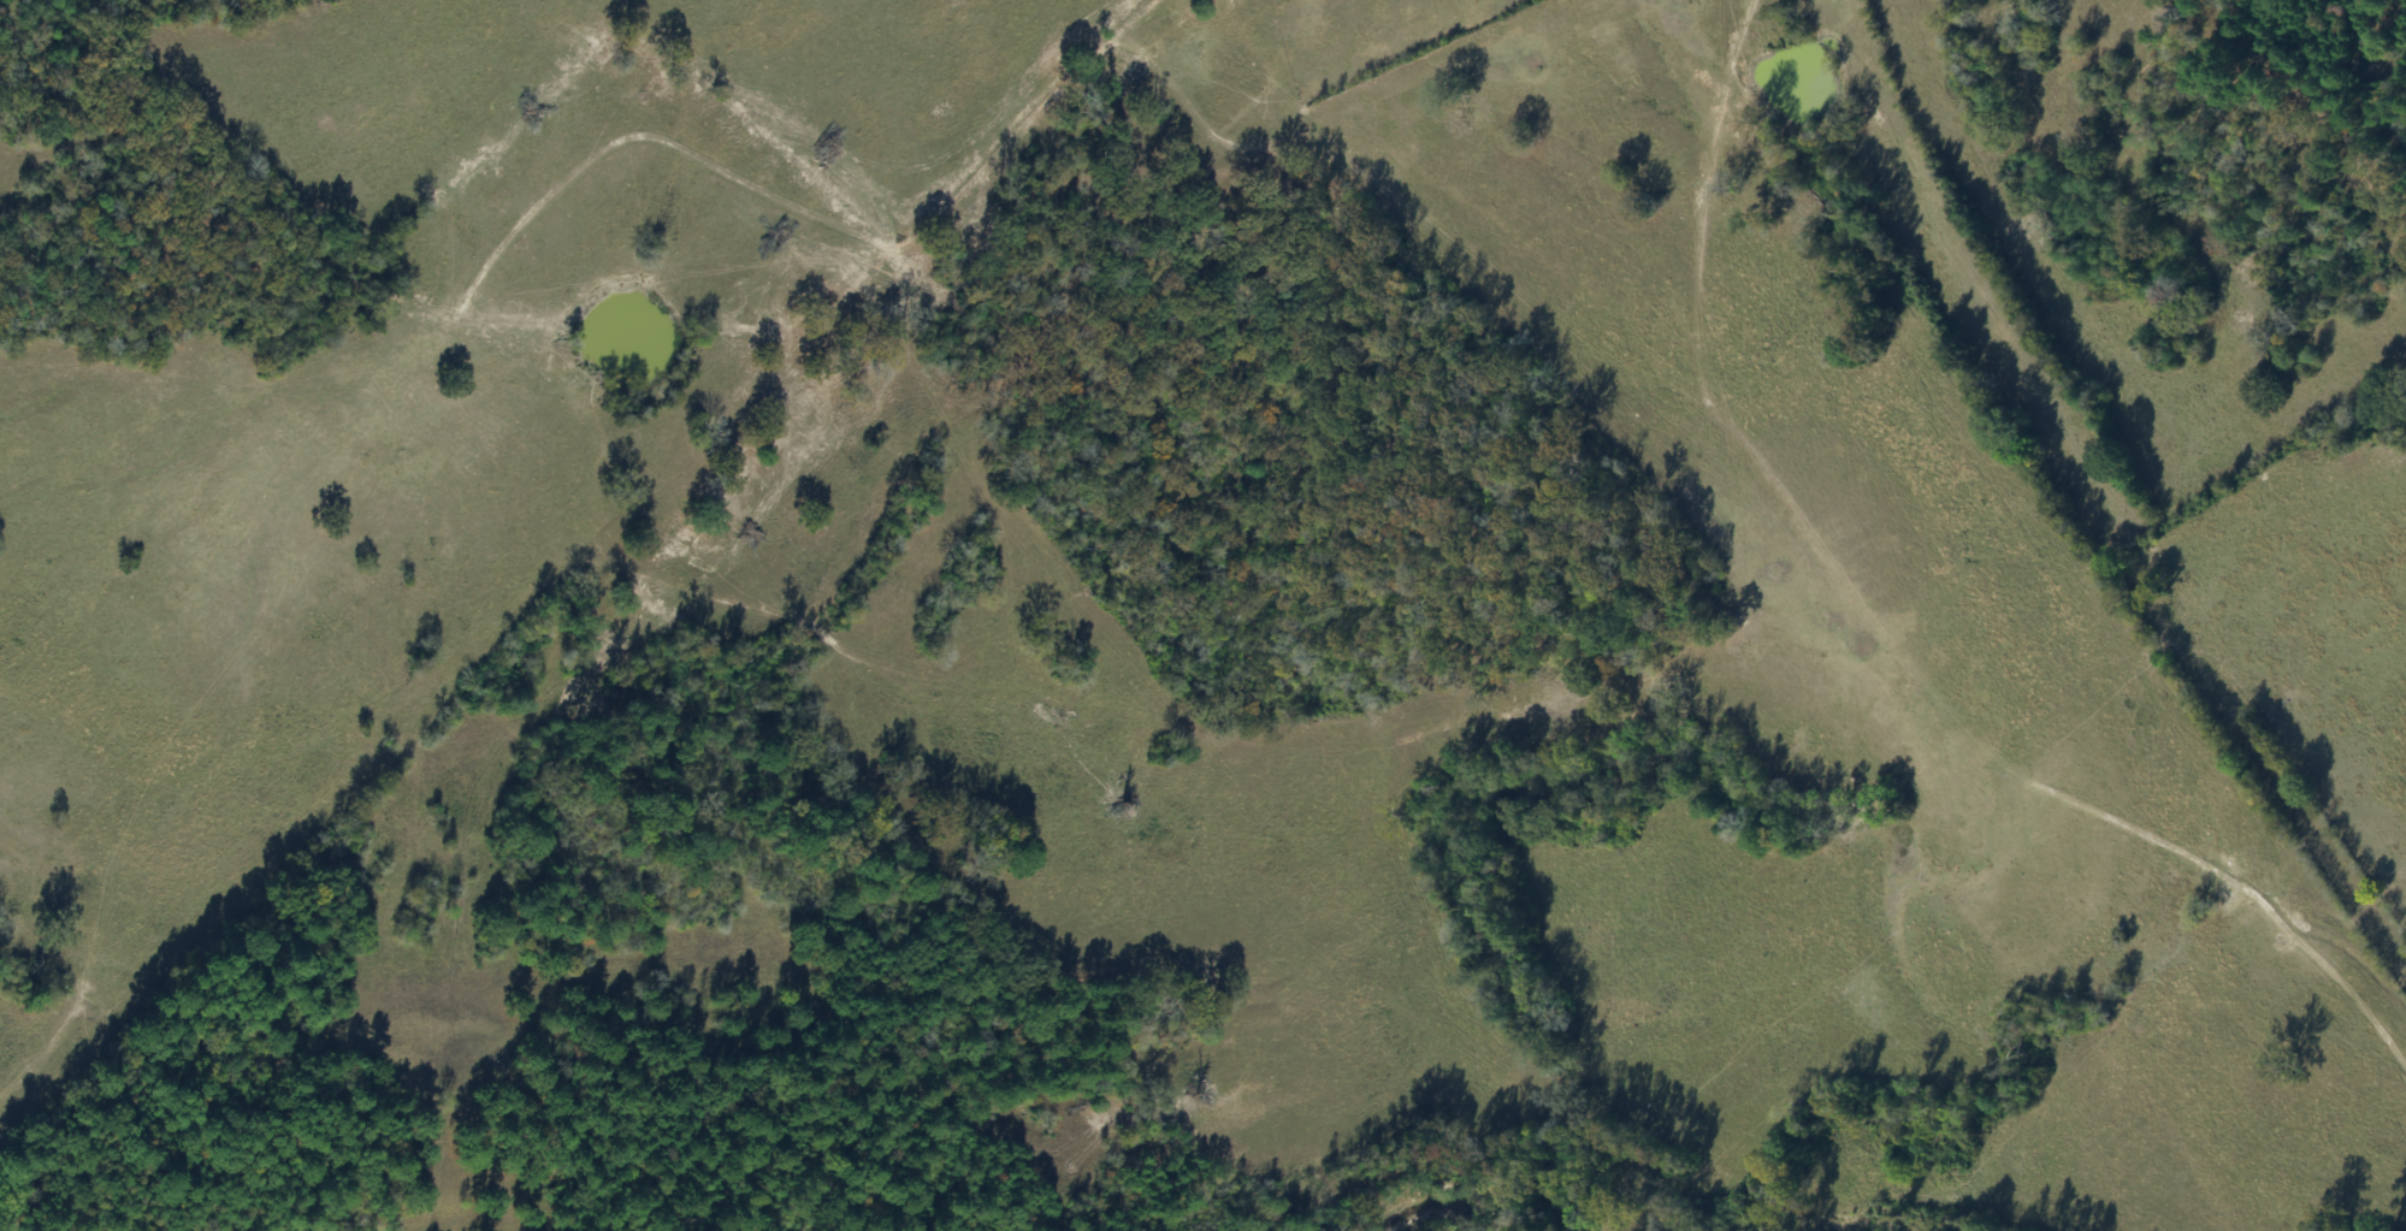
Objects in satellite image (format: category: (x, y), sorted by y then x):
road: (1876, 629)

